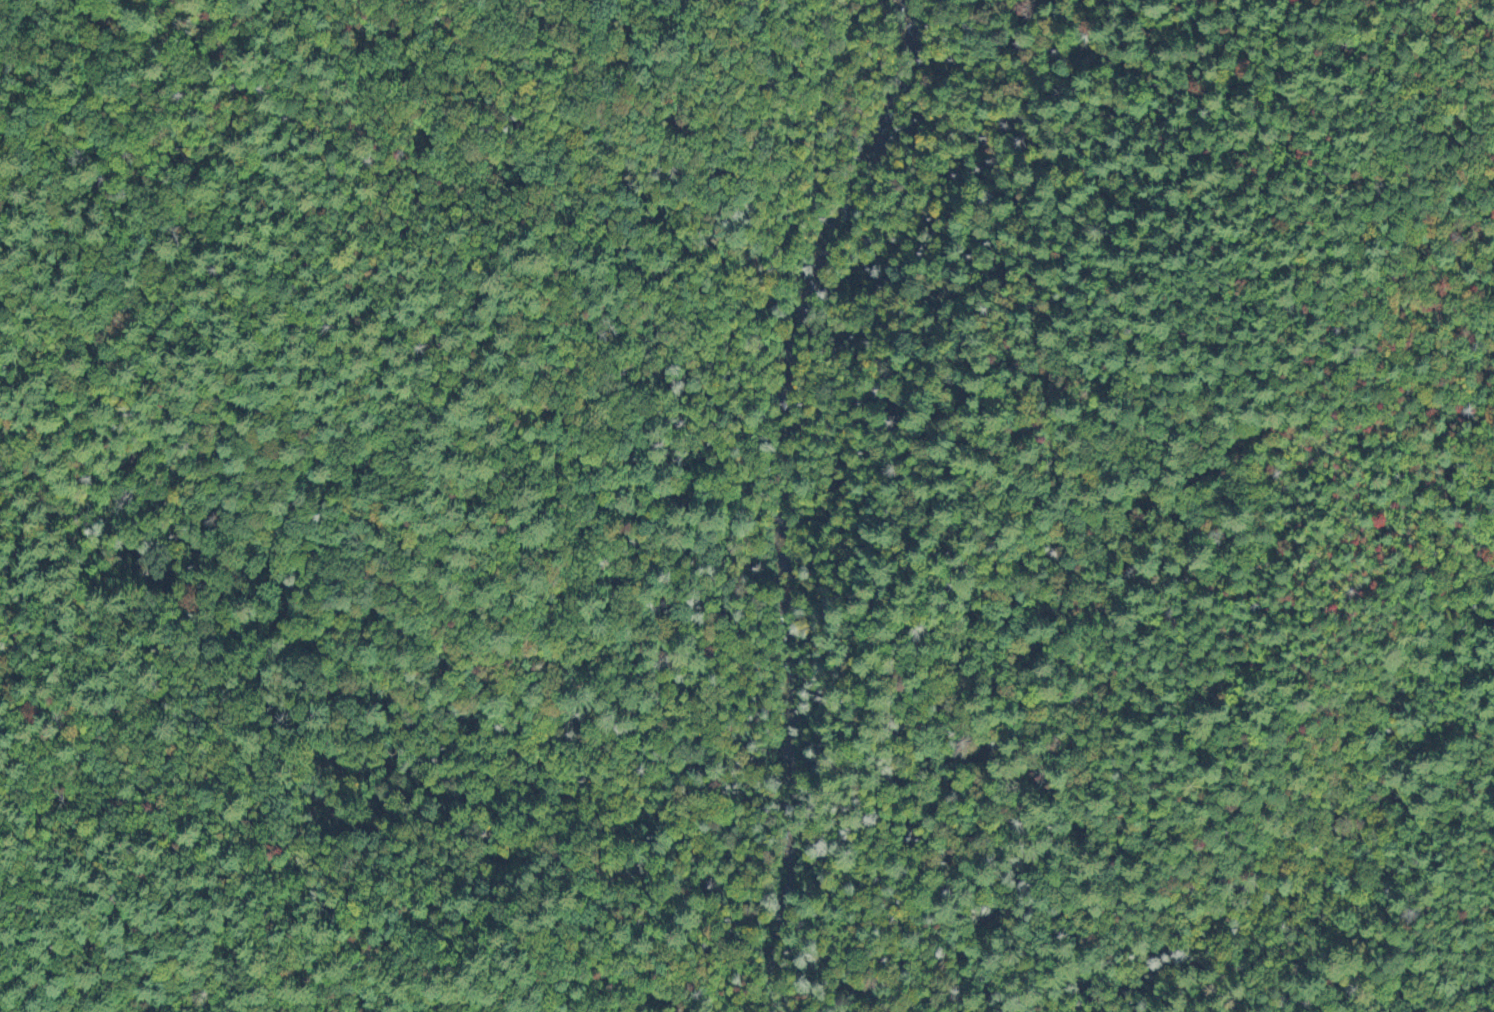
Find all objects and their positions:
river: (784, 494)
road: (733, 504)

